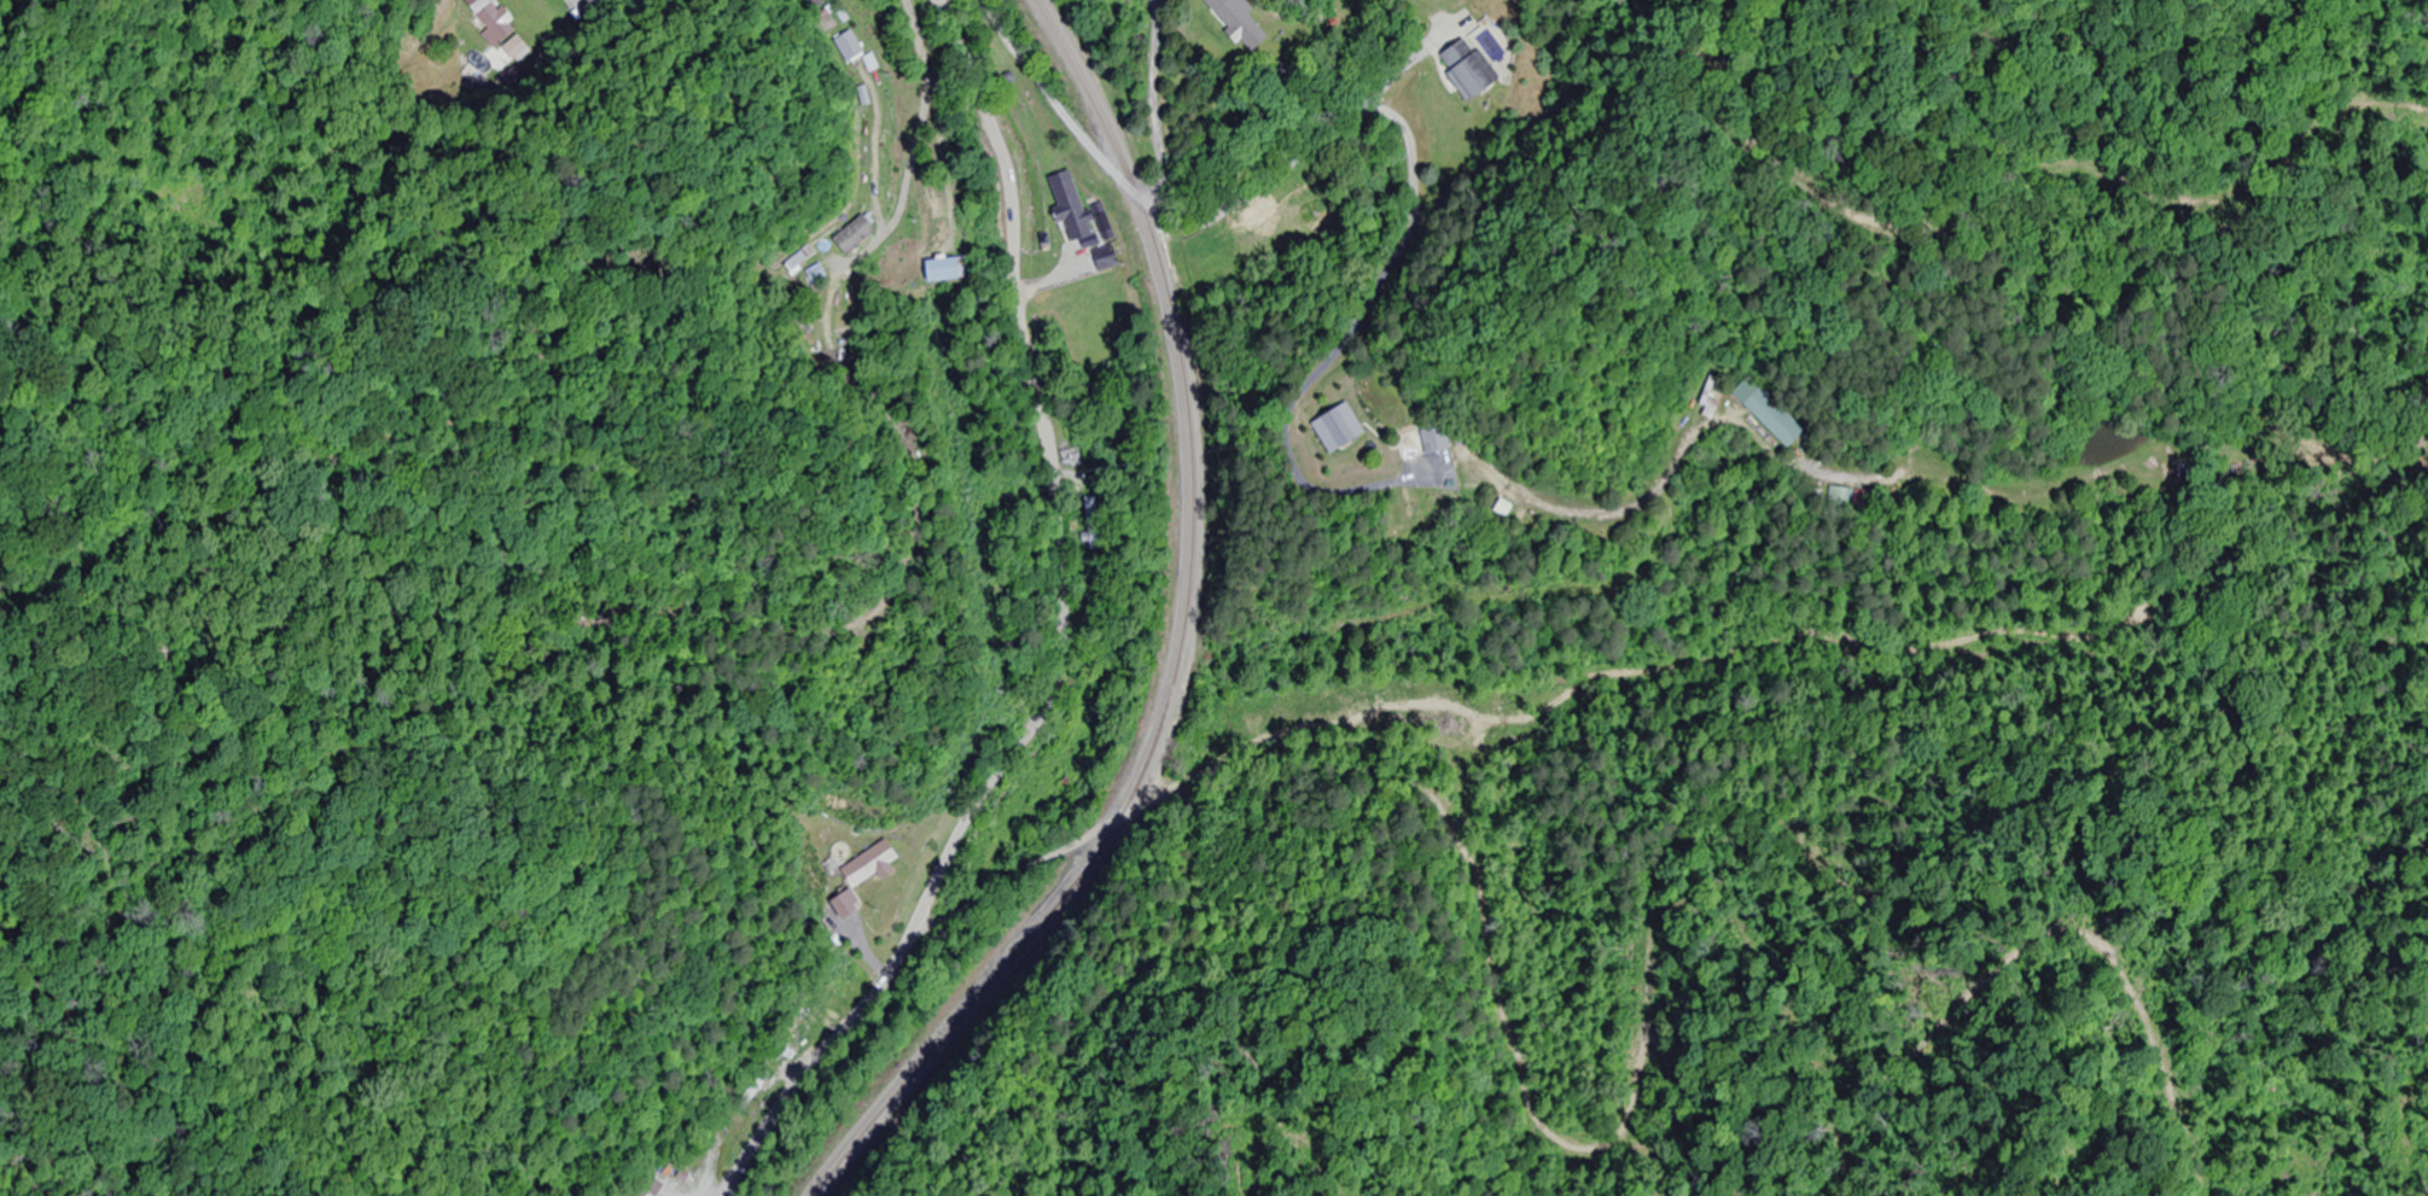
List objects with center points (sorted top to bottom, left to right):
building: (593, 2)
building: (819, 2)
building: (494, 22)
building: (1244, 23)
building: (860, 48)
road: (191, 52)
building: (1472, 71)
building: (883, 147)
building: (1073, 206)
building: (954, 270)
building: (1776, 420)
building: (1350, 432)
building: (1428, 443)
building: (1056, 456)
building: (1925, 483)
building: (1079, 523)
road: (1107, 643)
railway: (1178, 643)
building: (877, 864)
building: (852, 905)
building: (642, 1194)

